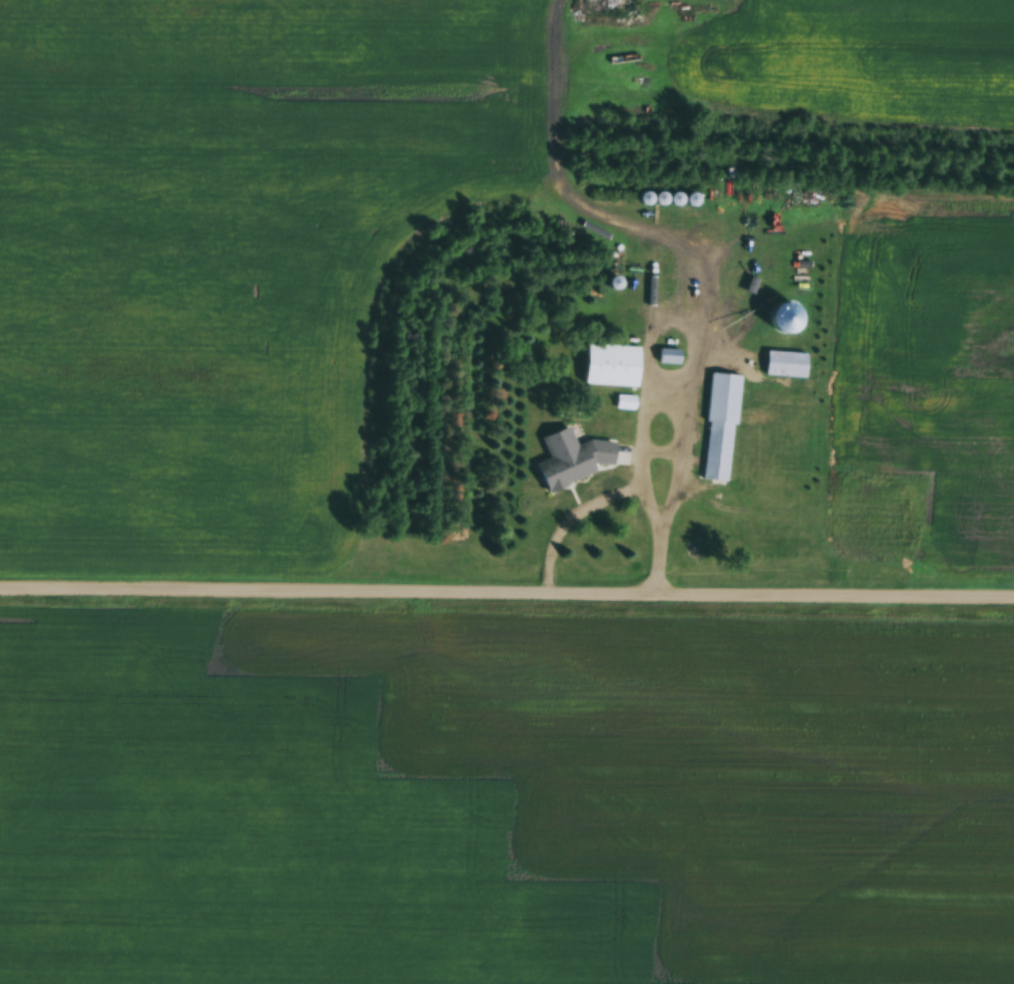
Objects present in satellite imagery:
building: (669, 358)
building: (785, 366)
building: (611, 367)
building: (625, 404)
building: (720, 429)
building: (577, 465)
road: (507, 600)

